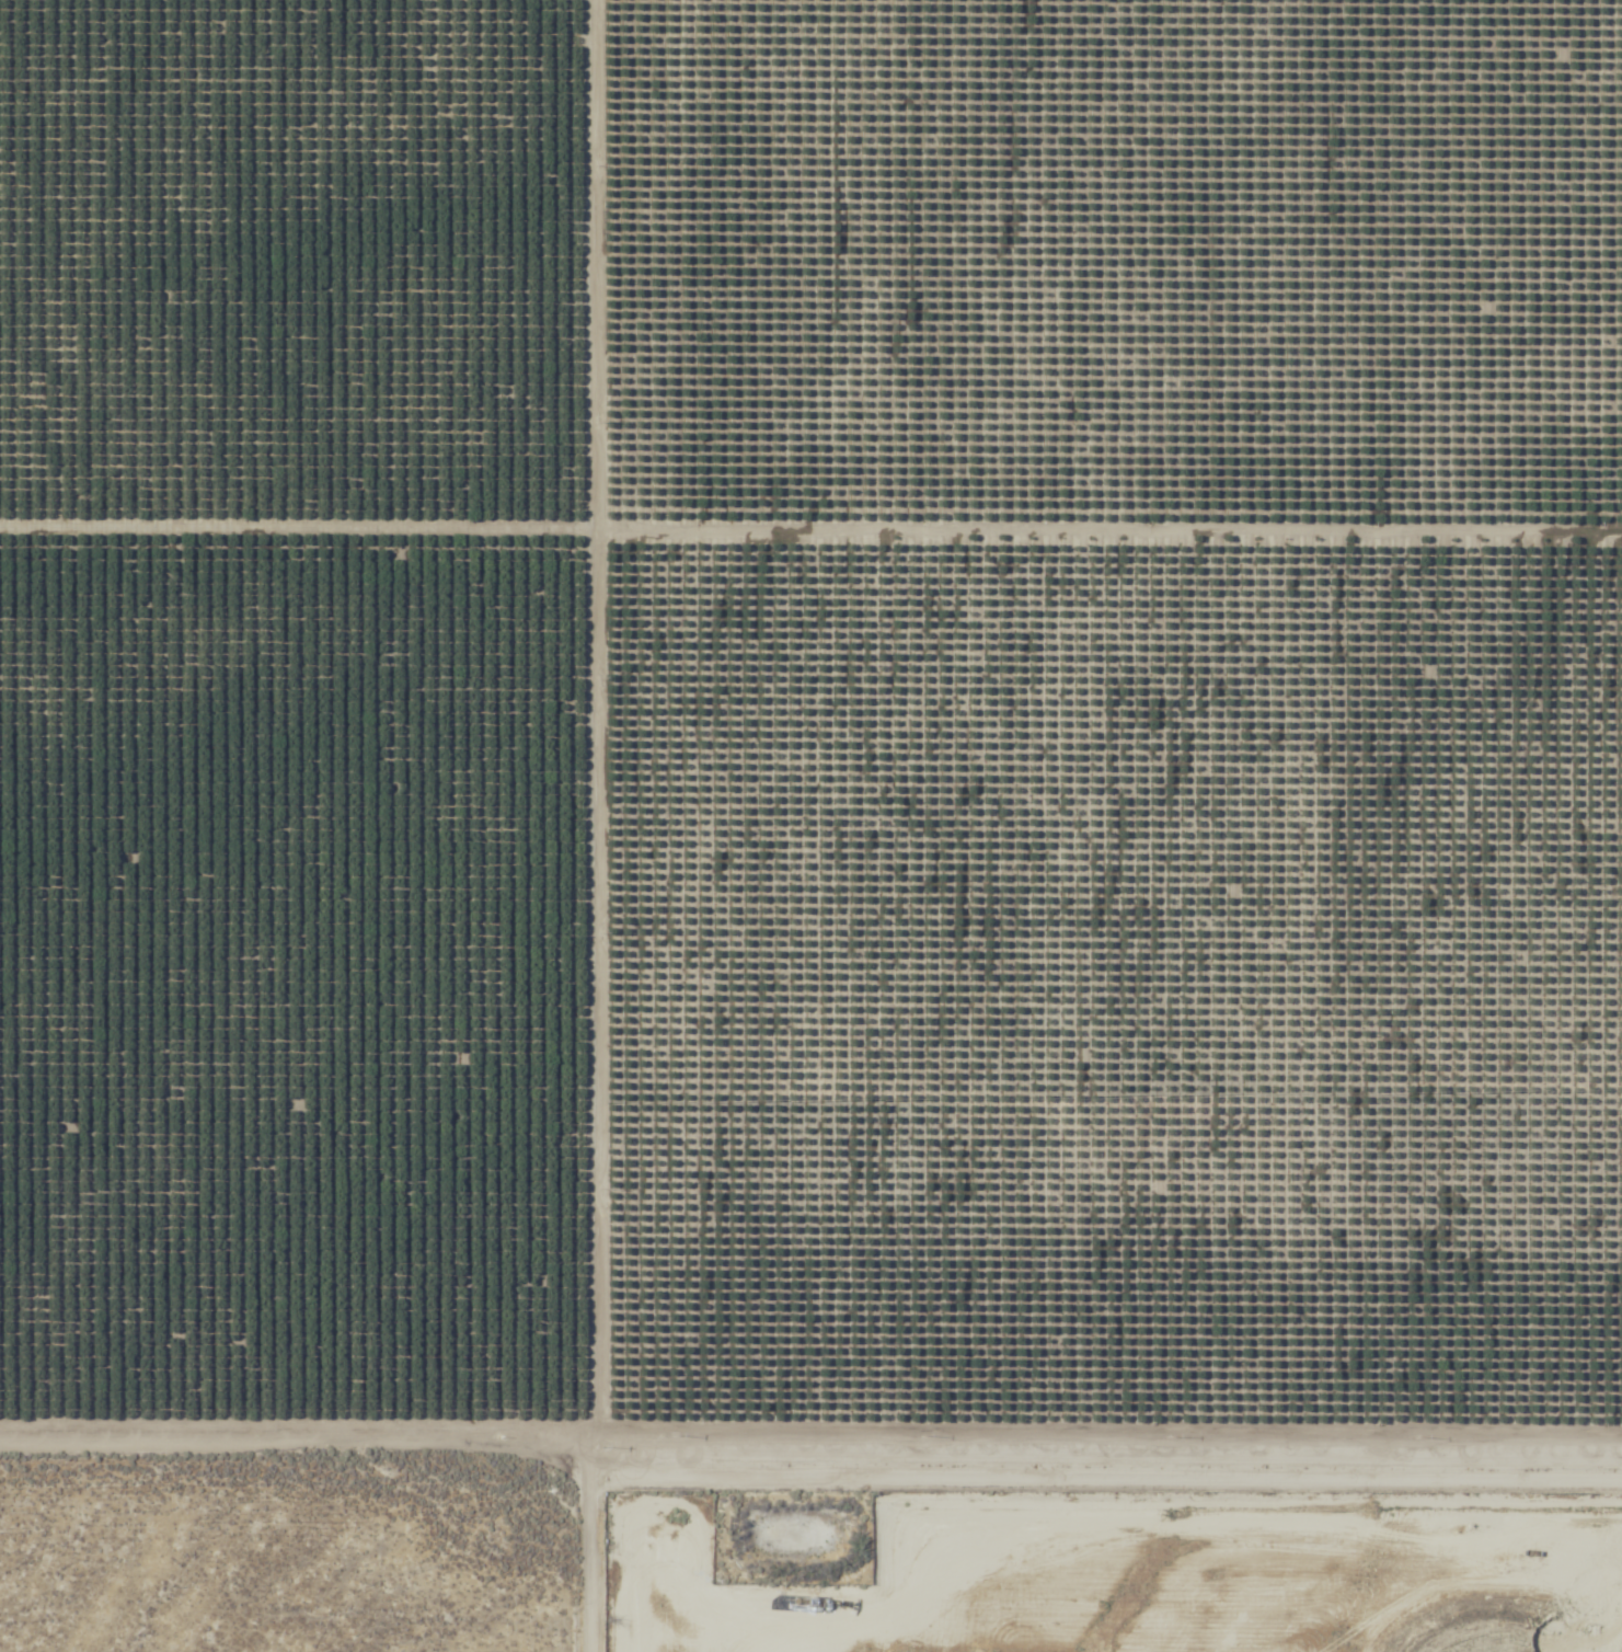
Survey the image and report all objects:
crop: (809, 715)
road: (810, 1483)
landfill: (1095, 1540)

